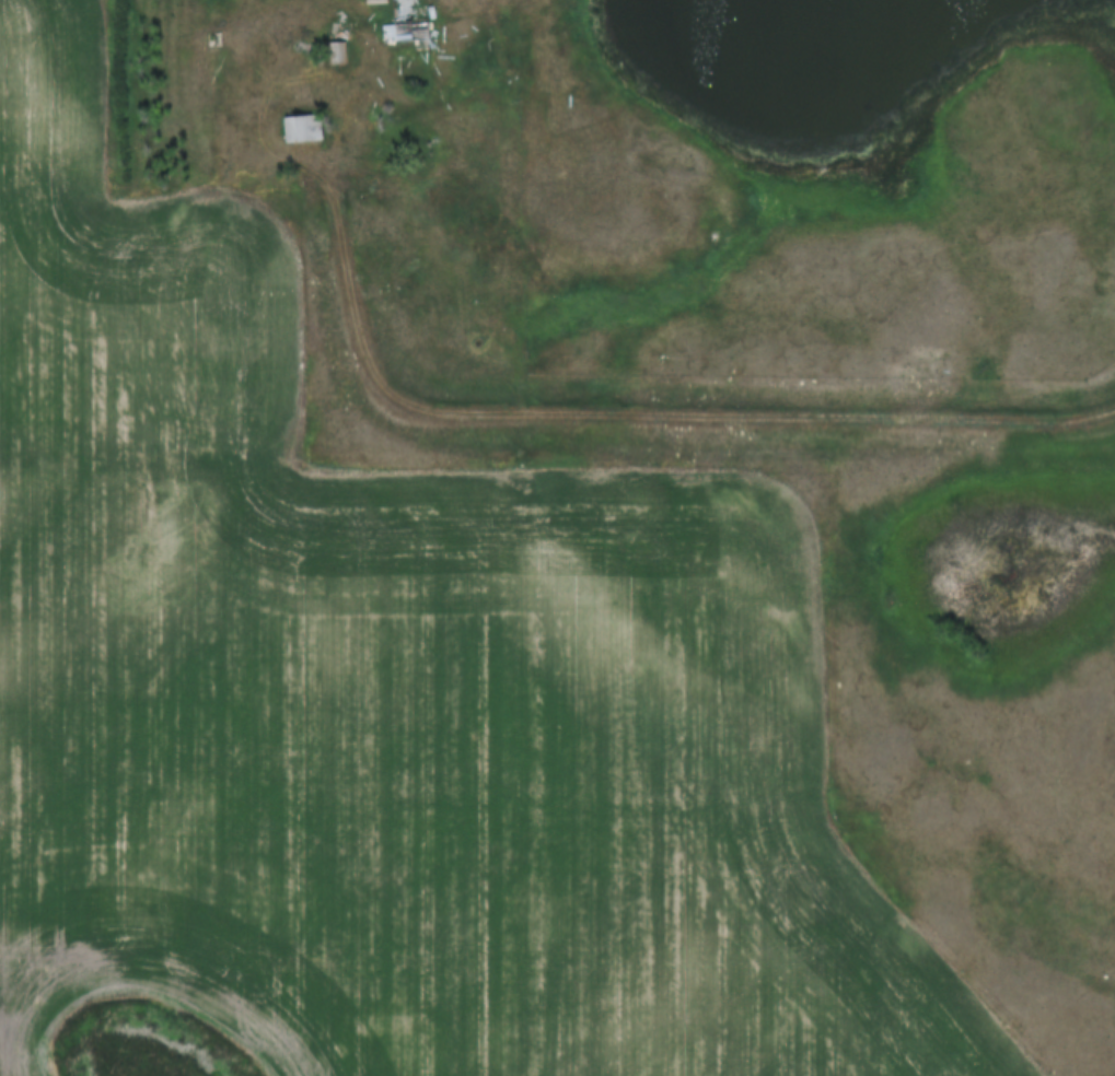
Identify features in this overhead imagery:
building: (374, 0)
building: (404, 23)
building: (334, 43)
building: (299, 128)
road: (636, 412)

